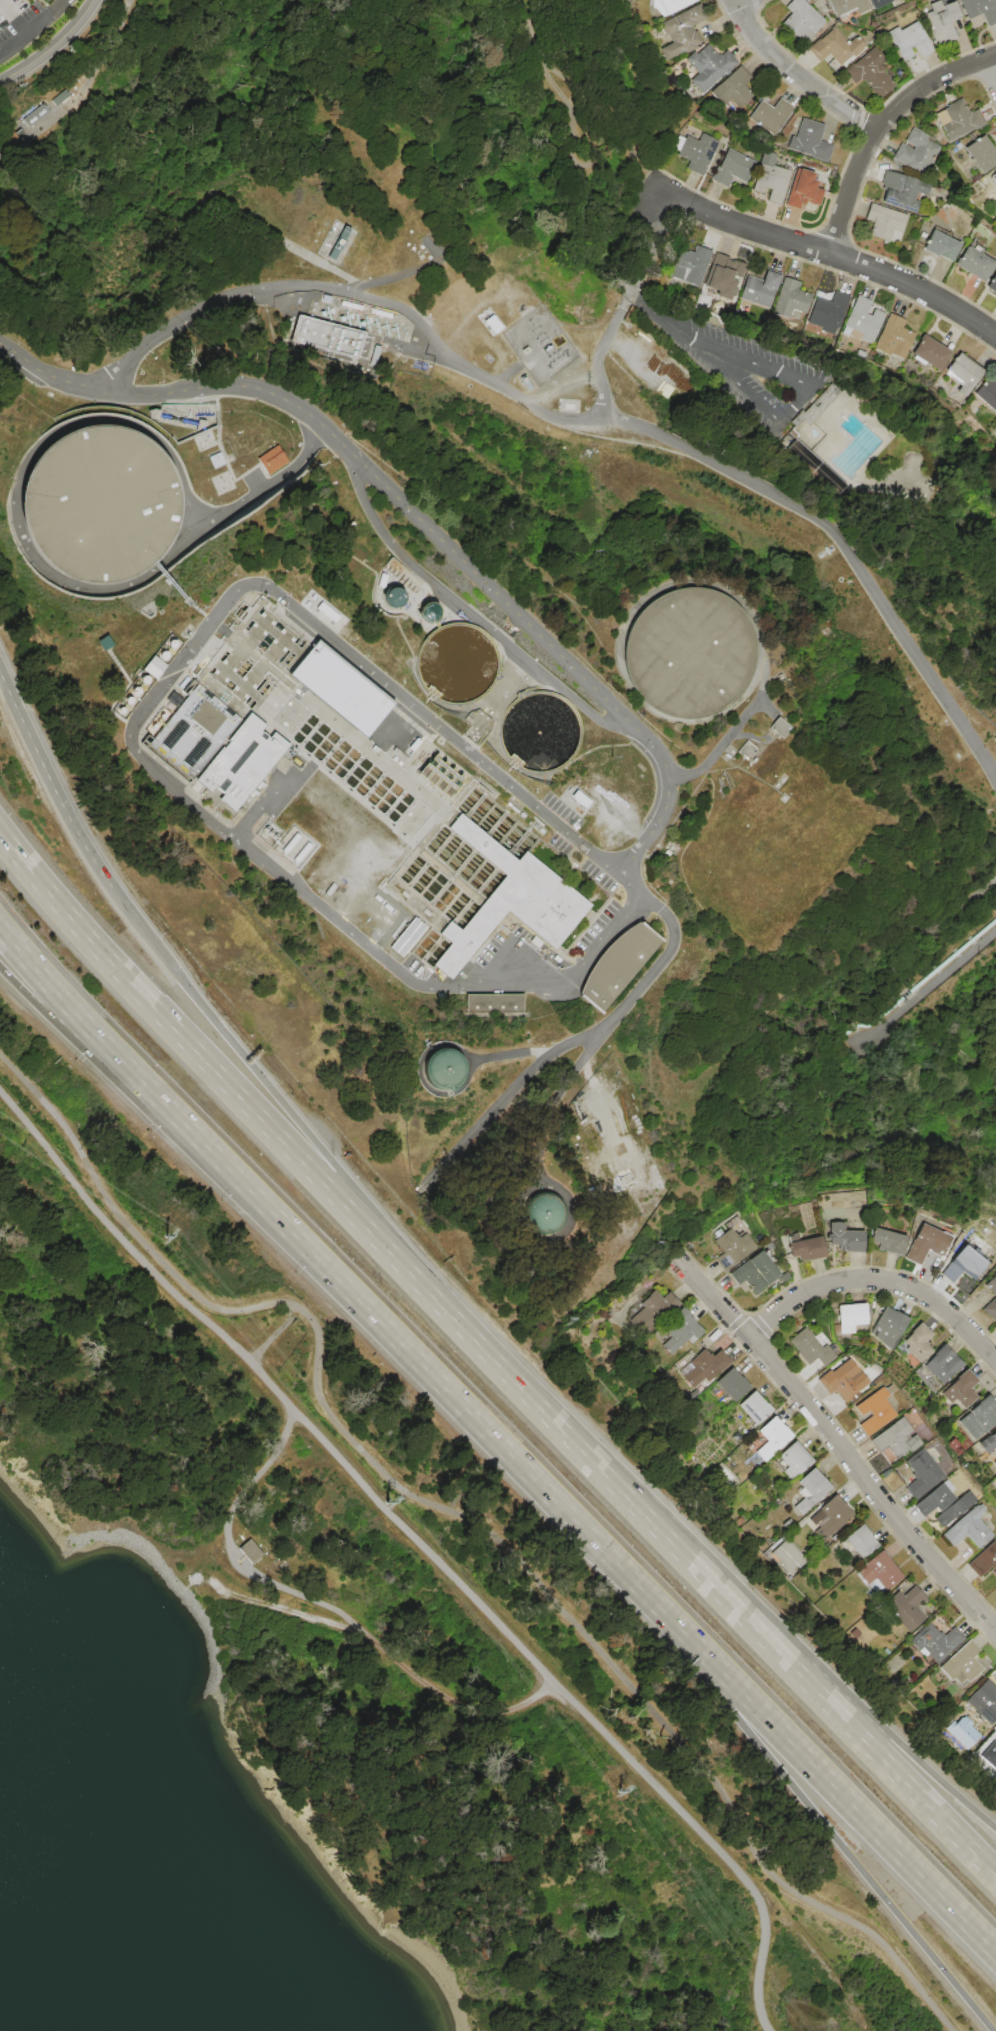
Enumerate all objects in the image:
building: (45, 0)
road: (736, 2)
building: (877, 3)
building: (669, 5)
building: (846, 7)
building: (980, 9)
building: (802, 19)
building: (942, 22)
building: (683, 31)
road: (36, 33)
building: (909, 40)
building: (836, 46)
road: (54, 49)
road: (993, 63)
building: (709, 67)
road: (794, 71)
building: (870, 73)
building: (734, 87)
road: (80, 90)
road: (603, 102)
park: (538, 111)
building: (35, 114)
building: (771, 115)
building: (958, 119)
road: (877, 124)
road: (575, 131)
building: (810, 141)
building: (697, 151)
building: (917, 152)
building: (981, 153)
building: (733, 168)
building: (771, 178)
building: (994, 178)
building: (803, 189)
building: (901, 190)
building: (882, 222)
building: (340, 242)
building: (941, 246)
road: (828, 253)
road: (309, 258)
building: (975, 263)
building: (690, 265)
road: (636, 267)
road: (391, 276)
building: (726, 276)
building: (992, 284)
building: (761, 289)
road: (353, 292)
building: (790, 298)
building: (828, 310)
building: (864, 320)
building: (493, 324)
building: (325, 337)
building: (894, 337)
power substation: (537, 344)
road: (599, 350)
building: (930, 352)
building: (964, 372)
building: (987, 394)
building: (824, 396)
road: (796, 401)
road: (153, 437)
building: (271, 460)
road: (261, 491)
building: (98, 503)
road: (845, 546)
road: (169, 582)
building: (392, 596)
storage tank: (392, 596)
building: (427, 611)
storage tank: (427, 611)
road: (205, 615)
road: (470, 615)
building: (689, 652)
road: (578, 671)
building: (339, 687)
wastewater plant: (443, 687)
building: (230, 707)
road: (132, 726)
building: (780, 728)
road: (718, 747)
building: (748, 750)
building: (438, 777)
road: (49, 782)
building: (509, 901)
building: (406, 936)
road: (17, 950)
building: (615, 966)
road: (927, 986)
building: (492, 1003)
road: (454, 1049)
road: (506, 1053)
building: (440, 1067)
storage tank: (440, 1067)
road: (112, 1070)
road: (130, 1070)
road: (221, 1080)
road: (554, 1096)
road: (280, 1101)
road: (556, 1192)
building: (542, 1212)
storage tank: (542, 1212)
power tower: (165, 1236)
building: (844, 1237)
building: (888, 1242)
building: (926, 1244)
building: (732, 1248)
building: (806, 1249)
building: (961, 1264)
building: (755, 1273)
road: (877, 1282)
building: (991, 1299)
building: (653, 1309)
building: (851, 1317)
building: (888, 1328)
building: (678, 1331)
road: (270, 1341)
building: (918, 1344)
building: (811, 1349)
building: (943, 1364)
building: (704, 1368)
road: (433, 1378)
building: (843, 1381)
building: (733, 1384)
building: (961, 1390)
building: (755, 1407)
building: (874, 1411)
building: (980, 1418)
building: (773, 1437)
building: (896, 1440)
building: (989, 1443)
road: (839, 1445)
building: (795, 1459)
building: (995, 1461)
road: (592, 1462)
building: (922, 1473)
building: (810, 1491)
power tower: (385, 1502)
building: (944, 1502)
building: (833, 1517)
road: (461, 1523)
building: (969, 1528)
building: (861, 1540)
road: (228, 1546)
road: (422, 1547)
building: (248, 1552)
building: (789, 1557)
building: (984, 1562)
building: (880, 1571)
building: (907, 1606)
building: (937, 1641)
road: (393, 1656)
building: (962, 1664)
building: (984, 1701)
road: (864, 1715)
road: (864, 1741)
road: (817, 1770)
power tower: (618, 1790)
road: (812, 1811)

